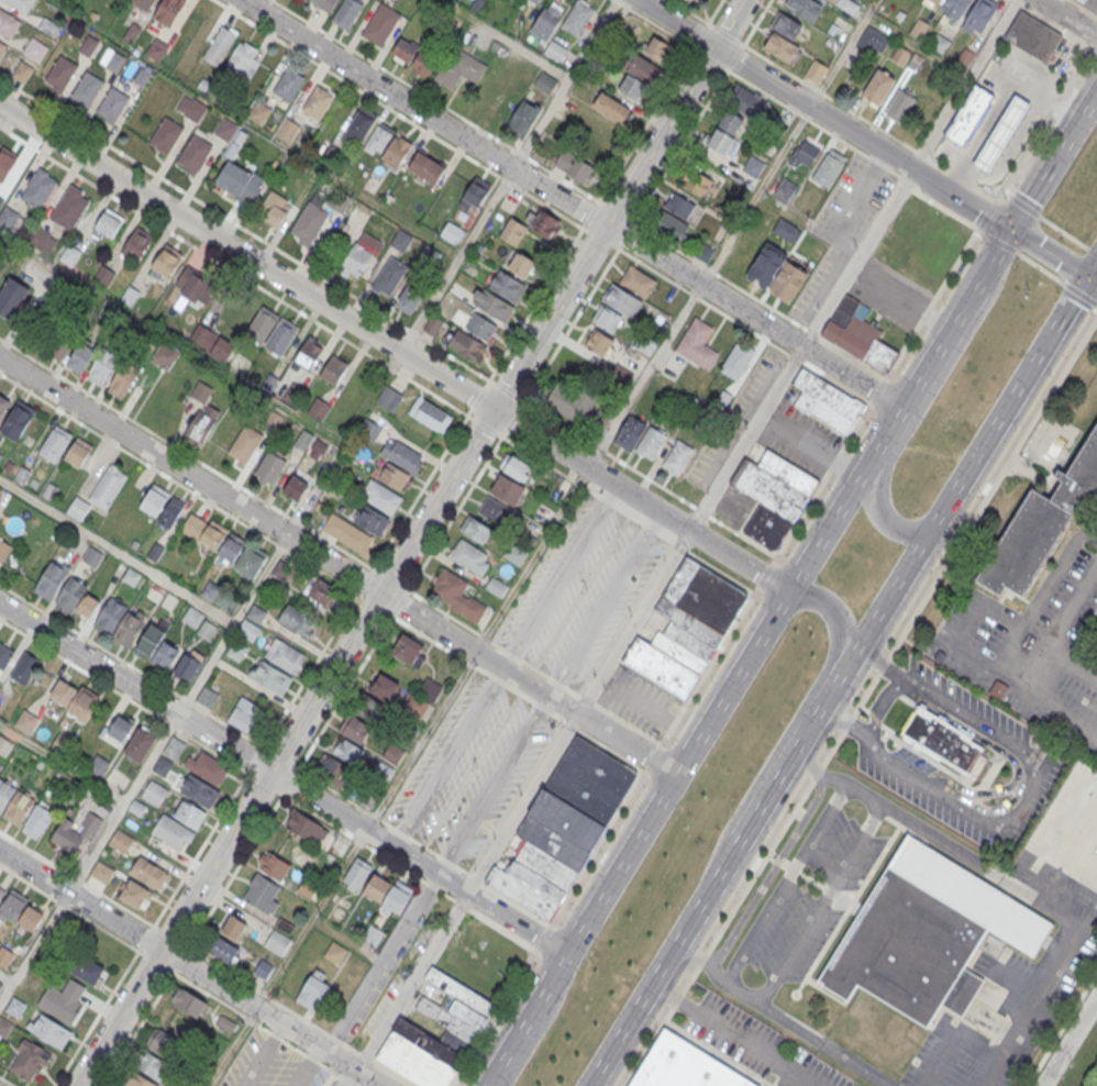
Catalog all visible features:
building: (819, 0)
building: (1085, 0)
building: (535, 1)
building: (1082, 1)
building: (692, 2)
building: (933, 2)
building: (143, 3)
building: (21, 4)
building: (325, 4)
building: (847, 5)
building: (956, 8)
building: (804, 9)
building: (168, 11)
building: (346, 13)
building: (979, 15)
building: (577, 18)
road: (1066, 19)
building: (547, 21)
building: (7, 23)
building: (381, 24)
building: (48, 27)
building: (787, 27)
building: (918, 30)
building: (131, 32)
building: (1033, 37)
building: (874, 43)
building: (939, 43)
building: (88, 45)
building: (219, 46)
building: (2, 47)
building: (34, 48)
building: (156, 48)
building: (657, 48)
building: (780, 49)
building: (403, 51)
building: (555, 51)
building: (241, 55)
building: (906, 58)
building: (114, 62)
building: (423, 64)
building: (459, 69)
building: (22, 71)
building: (62, 73)
building: (816, 73)
building: (638, 76)
building: (141, 77)
building: (288, 84)
building: (544, 84)
building: (87, 88)
building: (878, 89)
building: (318, 102)
building: (746, 102)
building: (112, 103)
building: (899, 107)
building: (611, 108)
building: (191, 109)
building: (259, 113)
road: (823, 113)
building: (968, 115)
building: (524, 118)
building: (359, 126)
building: (225, 129)
building: (287, 130)
building: (166, 134)
building: (725, 134)
building: (1000, 135)
building: (377, 140)
road: (902, 144)
building: (396, 149)
building: (195, 153)
building: (804, 153)
road: (1053, 156)
building: (5, 162)
building: (426, 167)
building: (575, 167)
building: (753, 167)
building: (829, 167)
building: (239, 182)
building: (696, 182)
road: (913, 186)
building: (38, 188)
building: (785, 190)
building: (476, 193)
building: (340, 200)
road: (570, 204)
building: (274, 207)
building: (679, 207)
building: (69, 208)
building: (10, 220)
building: (310, 220)
building: (669, 225)
building: (107, 226)
traffic signals: (1010, 229)
building: (787, 230)
building: (513, 232)
building: (37, 237)
building: (400, 240)
building: (136, 243)
road: (1049, 254)
building: (70, 255)
building: (426, 255)
building: (355, 261)
building: (165, 265)
building: (522, 266)
road: (1092, 270)
building: (777, 273)
building: (389, 276)
building: (104, 277)
traffic signals: (1087, 279)
building: (638, 281)
road: (1092, 281)
building: (507, 286)
building: (196, 288)
parking lot: (889, 293)
building: (129, 296)
building: (410, 297)
building: (11, 298)
building: (622, 301)
building: (494, 304)
building: (222, 314)
building: (607, 319)
building: (433, 324)
building: (480, 325)
building: (857, 334)
building: (280, 336)
building: (598, 343)
building: (697, 344)
building: (467, 346)
road: (394, 347)
building: (57, 351)
building: (309, 354)
building: (165, 356)
parking lot: (1096, 358)
building: (80, 359)
building: (736, 361)
building: (103, 365)
building: (334, 369)
road: (643, 376)
building: (123, 380)
road: (485, 386)
building: (389, 398)
building: (568, 401)
building: (827, 403)
building: (3, 406)
road: (1008, 406)
road: (920, 408)
building: (319, 410)
building: (430, 413)
building: (201, 418)
building: (19, 420)
parking lot: (734, 422)
building: (370, 429)
building: (630, 433)
parking lot: (799, 439)
building: (303, 440)
building: (651, 442)
building: (56, 443)
building: (245, 444)
building: (78, 454)
building: (401, 455)
building: (677, 457)
building: (269, 468)
building: (394, 476)
building: (108, 486)
building: (295, 488)
building: (508, 488)
road: (420, 491)
building: (380, 496)
building: (773, 497)
building: (155, 499)
parking lot: (732, 508)
building: (77, 509)
building: (173, 511)
building: (370, 520)
building: (1041, 523)
building: (475, 531)
building: (347, 533)
road: (684, 542)
road: (411, 543)
building: (224, 545)
road: (117, 550)
building: (3, 551)
building: (514, 555)
building: (469, 556)
road: (336, 567)
building: (281, 572)
road: (559, 577)
parking lot: (561, 578)
building: (52, 580)
building: (496, 587)
building: (320, 591)
building: (71, 594)
building: (457, 595)
building: (221, 597)
parking lot: (603, 605)
road: (606, 606)
road: (983, 608)
building: (112, 614)
building: (297, 621)
road: (232, 625)
building: (131, 627)
building: (687, 627)
building: (248, 629)
building: (207, 630)
road: (1061, 634)
building: (151, 641)
parking lot: (1032, 646)
building: (407, 650)
building: (236, 651)
building: (286, 655)
road: (746, 655)
building: (4, 656)
building: (188, 665)
road: (880, 665)
building: (25, 669)
building: (272, 676)
building: (385, 688)
building: (430, 690)
building: (71, 697)
building: (207, 697)
parking lot: (638, 701)
road: (597, 706)
building: (368, 709)
road: (884, 709)
road: (1061, 711)
building: (244, 713)
road: (794, 720)
building: (26, 722)
building: (121, 728)
road: (846, 728)
building: (355, 729)
building: (949, 743)
building: (140, 744)
building: (174, 747)
building: (347, 752)
road: (1009, 754)
road: (446, 757)
road: (812, 760)
road: (62, 763)
building: (208, 767)
building: (333, 772)
building: (60, 780)
road: (284, 780)
road: (494, 786)
road: (855, 788)
building: (200, 790)
building: (5, 793)
building: (154, 793)
road: (1032, 797)
road: (122, 805)
building: (18, 808)
road: (757, 808)
building: (190, 813)
building: (36, 821)
building: (564, 827)
building: (306, 828)
building: (173, 830)
building: (75, 831)
road: (941, 840)
building: (121, 841)
building: (275, 866)
road: (771, 869)
building: (101, 871)
building: (147, 871)
building: (357, 874)
road: (785, 883)
building: (0, 893)
building: (134, 893)
building: (263, 893)
building: (388, 894)
parking lot: (809, 896)
road: (819, 904)
building: (13, 905)
building: (31, 919)
building: (233, 928)
road: (546, 928)
building: (927, 933)
building: (373, 935)
building: (277, 943)
building: (0, 944)
road: (34, 948)
building: (222, 951)
building: (335, 952)
road: (694, 954)
road: (383, 964)
road: (1045, 966)
road: (189, 968)
building: (89, 972)
road: (4, 979)
building: (0, 984)
building: (313, 991)
flagpole: (795, 994)
building: (188, 1004)
building: (15, 1007)
road: (764, 1008)
building: (462, 1022)
building: (4, 1026)
building: (225, 1026)
road: (539, 1029)
building: (49, 1031)
road: (734, 1034)
road: (1068, 1041)
parking lot: (757, 1044)
road: (263, 1055)
building: (29, 1059)
road: (856, 1065)
building: (153, 1066)
building: (683, 1066)
road: (309, 1067)
building: (136, 1079)

